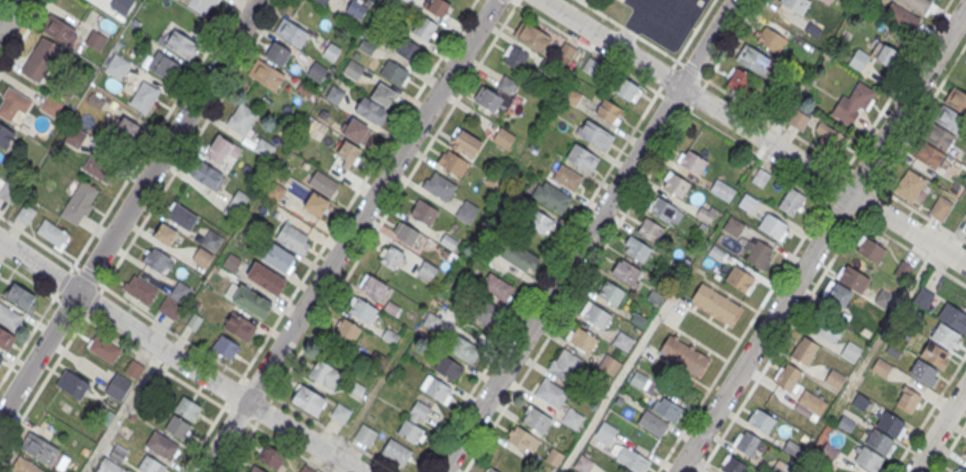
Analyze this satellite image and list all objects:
building: (405, 0)
building: (322, 1)
road: (1, 2)
building: (201, 5)
building: (795, 5)
building: (917, 5)
building: (436, 7)
building: (355, 8)
building: (902, 16)
road: (11, 18)
parking lot: (664, 19)
building: (424, 27)
building: (60, 31)
building: (291, 32)
road: (22, 35)
building: (532, 37)
building: (96, 41)
building: (771, 41)
building: (181, 45)
building: (366, 46)
road: (583, 46)
building: (406, 48)
road: (658, 49)
building: (331, 51)
building: (277, 53)
building: (565, 54)
building: (886, 56)
building: (515, 57)
building: (40, 59)
building: (752, 59)
building: (858, 60)
building: (117, 66)
building: (163, 66)
building: (590, 66)
building: (353, 69)
building: (318, 71)
building: (393, 72)
building: (265, 74)
building: (738, 82)
building: (305, 89)
building: (627, 89)
building: (334, 94)
building: (383, 94)
building: (144, 97)
building: (573, 97)
building: (487, 98)
road: (888, 98)
building: (956, 100)
building: (853, 103)
building: (14, 105)
building: (50, 107)
building: (369, 109)
building: (609, 111)
building: (242, 118)
building: (949, 119)
building: (124, 129)
building: (357, 130)
road: (911, 130)
road: (155, 133)
building: (595, 133)
road: (753, 133)
building: (6, 136)
building: (938, 137)
building: (503, 139)
building: (464, 142)
road: (192, 143)
building: (264, 148)
building: (221, 150)
road: (821, 151)
building: (348, 153)
building: (927, 154)
building: (581, 156)
building: (692, 161)
building: (452, 162)
building: (98, 169)
building: (206, 174)
building: (567, 175)
building: (760, 177)
building: (323, 183)
building: (676, 183)
building: (908, 185)
building: (439, 186)
road: (358, 188)
building: (721, 188)
building: (7, 191)
building: (276, 192)
building: (550, 195)
road: (395, 197)
building: (790, 200)
building: (79, 202)
building: (746, 202)
building: (316, 203)
building: (236, 204)
building: (940, 207)
road: (129, 208)
building: (662, 208)
building: (424, 212)
building: (25, 213)
building: (466, 213)
building: (705, 213)
building: (965, 215)
building: (182, 216)
building: (540, 223)
building: (733, 226)
building: (773, 226)
building: (650, 228)
building: (407, 233)
building: (53, 234)
building: (165, 234)
road: (587, 235)
road: (610, 235)
road: (349, 236)
building: (293, 238)
road: (821, 239)
road: (36, 240)
building: (212, 240)
building: (449, 243)
building: (636, 247)
building: (871, 249)
building: (758, 253)
building: (202, 257)
building: (279, 257)
building: (392, 257)
building: (156, 259)
building: (520, 259)
road: (785, 265)
building: (902, 270)
building: (626, 271)
building: (426, 272)
building: (266, 278)
building: (740, 279)
road: (538, 282)
building: (373, 287)
building: (845, 288)
building: (140, 289)
building: (179, 291)
building: (611, 292)
building: (20, 296)
building: (252, 301)
building: (481, 302)
building: (716, 303)
building: (170, 307)
building: (363, 310)
building: (595, 316)
building: (9, 317)
building: (953, 317)
road: (157, 321)
building: (194, 321)
building: (431, 323)
road: (36, 324)
building: (240, 326)
building: (826, 328)
building: (347, 330)
road: (110, 334)
building: (944, 335)
building: (581, 338)
building: (6, 339)
building: (622, 341)
road: (779, 345)
building: (225, 347)
building: (462, 348)
building: (103, 349)
building: (804, 351)
building: (850, 351)
building: (683, 353)
building: (934, 355)
road: (176, 357)
building: (1, 358)
building: (565, 365)
building: (880, 366)
building: (449, 368)
road: (51, 369)
building: (921, 371)
building: (325, 374)
building: (788, 376)
building: (834, 378)
building: (639, 380)
road: (618, 381)
building: (72, 384)
building: (118, 387)
building: (356, 389)
building: (437, 389)
road: (372, 393)
building: (551, 393)
building: (908, 398)
building: (309, 400)
building: (779, 402)
building: (812, 402)
building: (860, 403)
road: (122, 409)
building: (668, 409)
building: (188, 410)
building: (340, 412)
road: (929, 412)
building: (573, 418)
building: (536, 419)
building: (652, 421)
building: (761, 421)
building: (890, 423)
road: (212, 424)
road: (319, 424)
building: (845, 424)
building: (177, 428)
road: (939, 429)
building: (409, 431)
building: (606, 431)
road: (249, 434)
building: (365, 434)
road: (274, 439)
building: (523, 439)
building: (879, 441)
building: (746, 442)
building: (162, 446)
road: (950, 447)
building: (41, 449)
building: (792, 449)
building: (396, 452)
building: (828, 452)
building: (965, 456)
building: (271, 457)
building: (631, 458)
building: (867, 459)
building: (583, 463)
building: (24, 465)
building: (150, 465)
building: (734, 465)
building: (108, 466)
building: (780, 467)
building: (256, 469)
building: (961, 469)
building: (490, 470)

